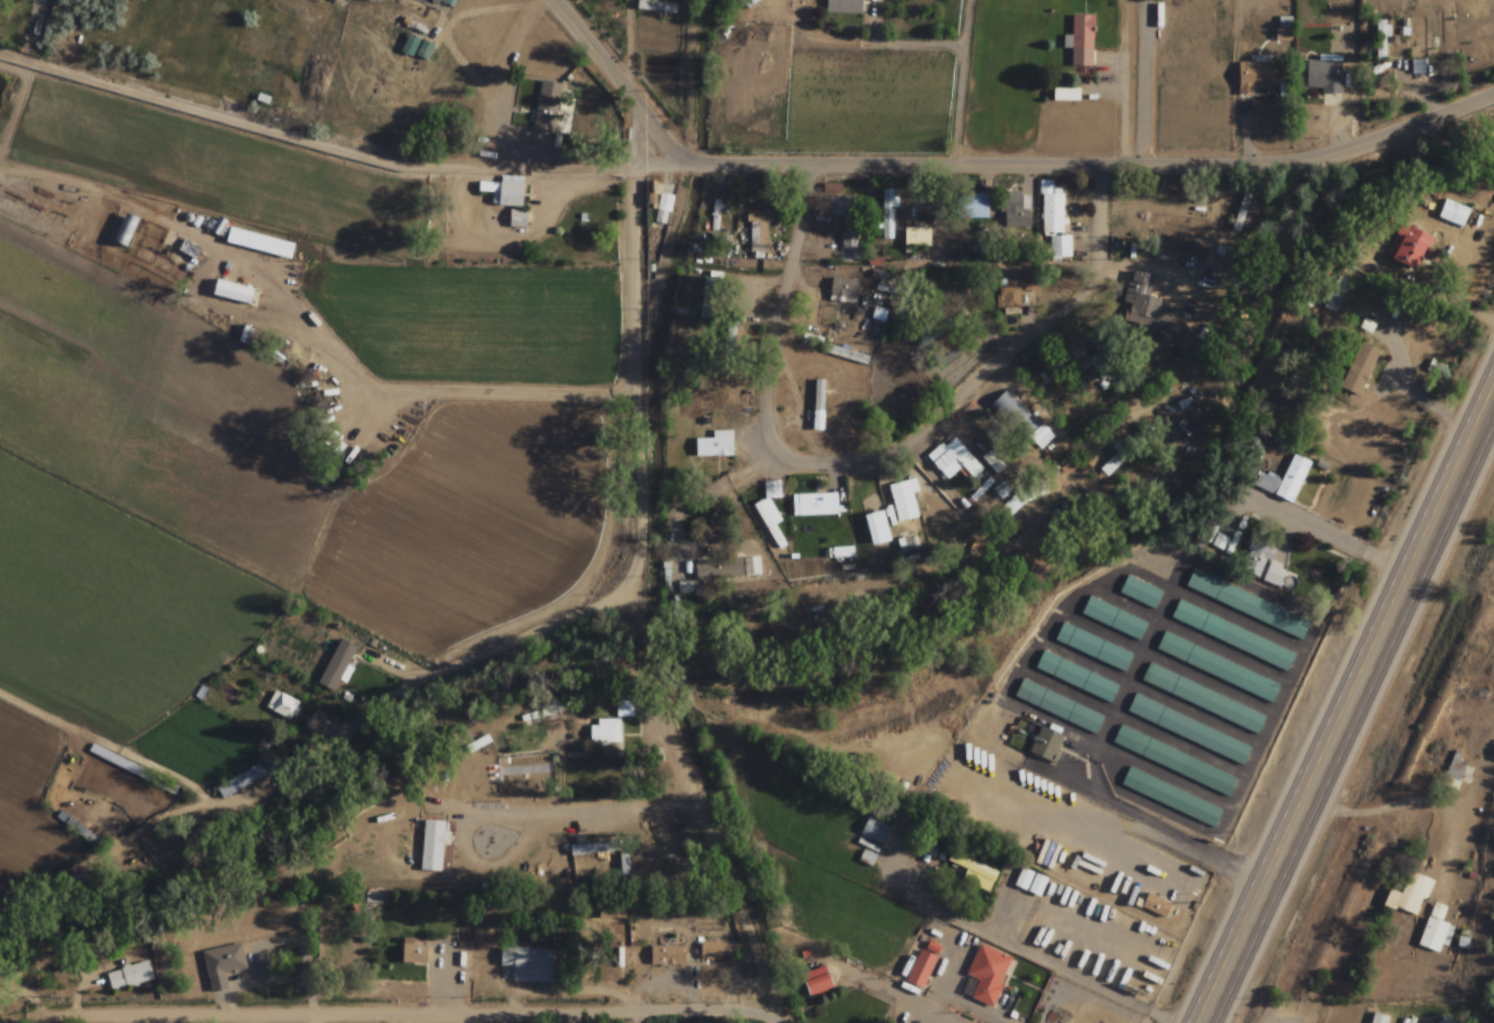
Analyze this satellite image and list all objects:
building: (440, 1)
building: (749, 3)
building: (656, 7)
building: (843, 7)
building: (1418, 36)
building: (1081, 40)
building: (1382, 40)
building: (410, 45)
building: (424, 50)
building: (1324, 74)
building: (1255, 78)
road: (619, 86)
road: (1123, 106)
building: (545, 130)
road: (1068, 165)
building: (505, 192)
building: (842, 206)
building: (973, 206)
building: (663, 209)
building: (1014, 210)
building: (889, 214)
building: (716, 215)
building: (1452, 215)
building: (1244, 216)
building: (517, 220)
building: (1054, 220)
building: (125, 230)
building: (759, 232)
building: (917, 236)
building: (849, 241)
building: (259, 242)
building: (1408, 246)
building: (189, 250)
building: (881, 274)
building: (843, 289)
building: (232, 293)
building: (1009, 296)
building: (706, 299)
road: (1439, 312)
building: (879, 314)
building: (1149, 314)
road: (772, 321)
building: (953, 349)
building: (1093, 362)
road: (985, 368)
building: (1359, 369)
building: (818, 405)
building: (1022, 420)
building: (1291, 434)
building: (715, 445)
building: (994, 460)
building: (954, 461)
building: (1112, 464)
building: (1284, 482)
building: (903, 499)
building: (814, 504)
building: (771, 513)
building: (1263, 562)
building: (727, 569)
building: (1140, 592)
building: (1247, 605)
building: (1113, 618)
building: (1233, 636)
building: (1093, 647)
road: (494, 649)
river: (817, 657)
road: (1351, 665)
building: (1217, 668)
building: (337, 670)
building: (1076, 677)
building: (1203, 699)
road: (1361, 703)
building: (283, 706)
building: (1058, 707)
building: (1188, 730)
building: (605, 731)
building: (1045, 745)
building: (1173, 761)
building: (1453, 772)
building: (241, 781)
building: (1170, 798)
road: (1419, 802)
road: (697, 808)
building: (69, 822)
building: (875, 831)
building: (665, 844)
road: (1190, 844)
building: (593, 849)
building: (624, 869)
building: (975, 871)
building: (79, 883)
building: (1030, 884)
building: (1409, 897)
building: (374, 898)
building: (1155, 906)
building: (611, 911)
building: (1436, 938)
building: (413, 951)
building: (711, 951)
building: (666, 957)
building: (529, 965)
building: (222, 966)
building: (921, 969)
building: (129, 976)
building: (987, 976)
building: (817, 982)
road: (1192, 995)
road: (1222, 1004)
road: (388, 1014)
building: (1379, 1020)

